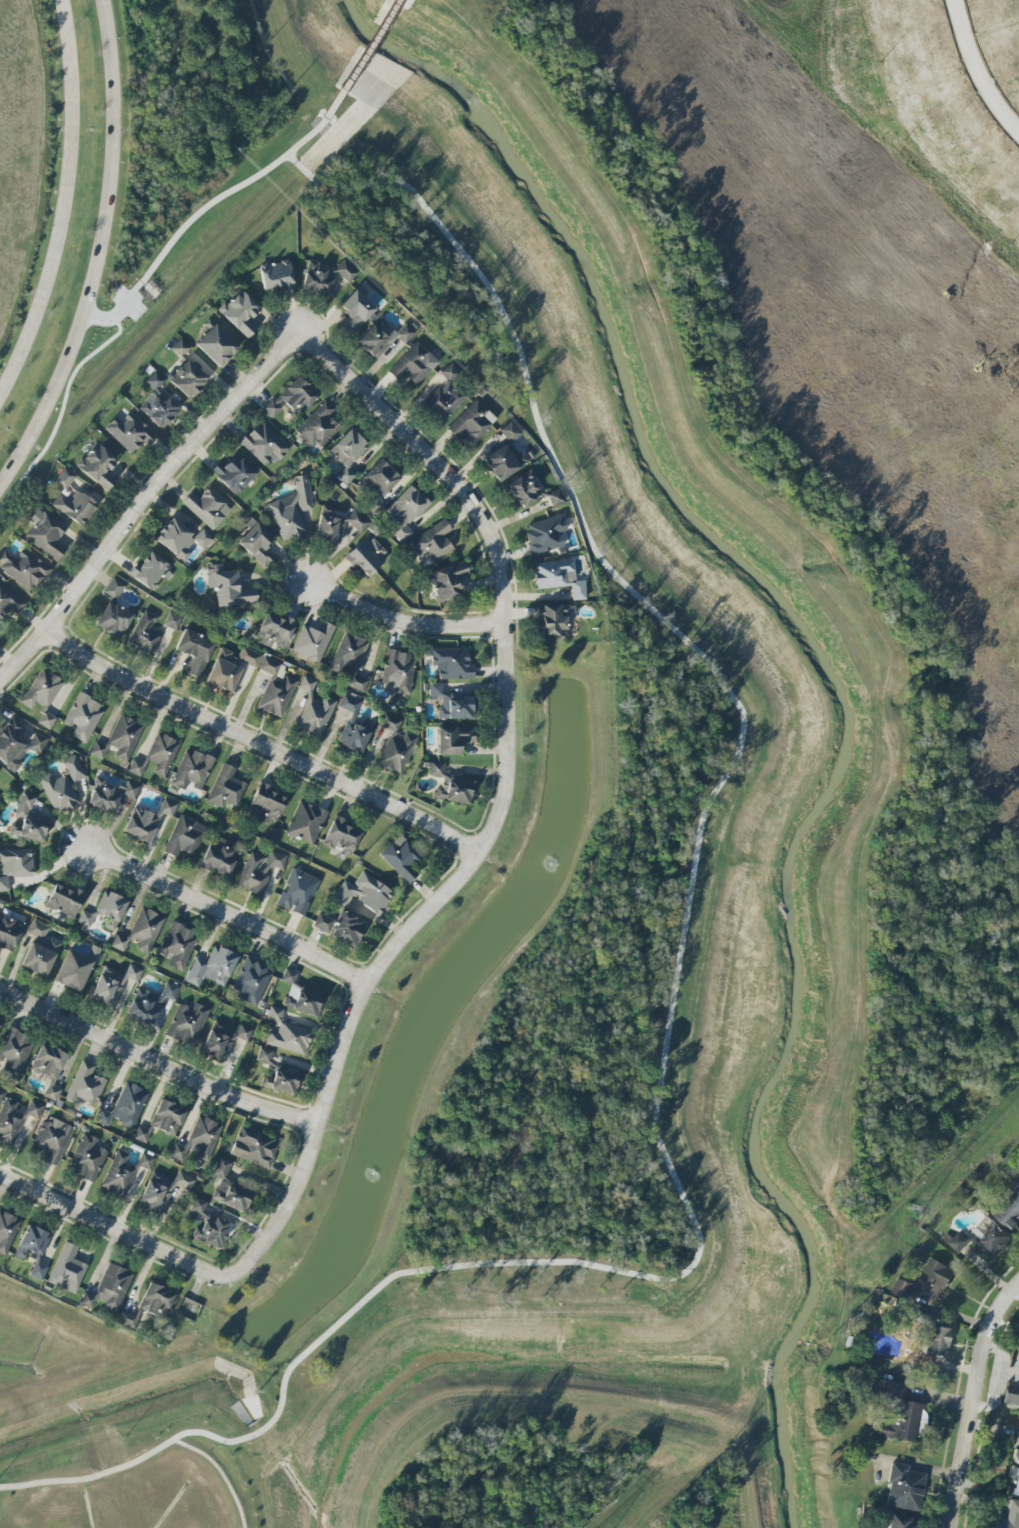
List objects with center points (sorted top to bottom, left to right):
road: (362, 59)
road: (975, 71)
road: (226, 192)
road: (67, 206)
road: (847, 218)
road: (101, 256)
building: (346, 271)
building: (277, 276)
building: (317, 279)
building: (355, 310)
building: (240, 313)
building: (382, 337)
building: (216, 346)
building: (180, 348)
building: (413, 364)
building: (187, 379)
building: (445, 395)
building: (293, 398)
building: (158, 403)
building: (472, 422)
building: (317, 426)
building: (129, 432)
building: (264, 444)
building: (347, 454)
building: (506, 455)
building: (98, 466)
building: (233, 474)
building: (64, 478)
building: (379, 479)
building: (524, 489)
building: (555, 498)
road: (142, 500)
building: (75, 506)
building: (207, 507)
building: (292, 510)
building: (405, 512)
road: (913, 515)
building: (357, 522)
building: (329, 529)
building: (46, 533)
building: (545, 534)
building: (203, 538)
building: (175, 539)
building: (433, 541)
building: (256, 542)
building: (366, 556)
building: (24, 568)
building: (150, 571)
building: (559, 577)
building: (227, 587)
building: (114, 588)
building: (9, 603)
building: (114, 619)
road: (404, 620)
building: (552, 620)
building: (172, 621)
building: (275, 631)
building: (144, 633)
building: (312, 641)
building: (194, 651)
building: (350, 660)
building: (452, 663)
building: (230, 667)
building: (398, 672)
building: (275, 689)
building: (43, 695)
river: (843, 699)
building: (348, 704)
building: (452, 704)
building: (314, 710)
building: (83, 717)
building: (355, 734)
building: (119, 739)
building: (453, 739)
road: (260, 741)
building: (18, 746)
building: (395, 746)
building: (162, 753)
building: (136, 768)
building: (0, 770)
building: (191, 771)
building: (63, 786)
building: (450, 786)
building: (226, 788)
building: (110, 793)
road: (502, 800)
building: (265, 803)
building: (168, 807)
building: (27, 820)
building: (306, 822)
building: (141, 824)
building: (185, 836)
building: (341, 836)
building: (401, 857)
building: (219, 858)
building: (16, 869)
building: (259, 871)
building: (297, 892)
building: (364, 892)
building: (64, 901)
building: (110, 909)
road: (229, 913)
building: (85, 919)
building: (322, 922)
building: (146, 928)
building: (37, 929)
building: (347, 929)
building: (9, 932)
building: (119, 942)
building: (178, 946)
building: (93, 953)
building: (40, 956)
building: (212, 967)
building: (73, 970)
building: (289, 976)
building: (250, 982)
building: (112, 984)
road: (675, 1000)
building: (302, 1003)
building: (148, 1004)
building: (187, 1023)
building: (287, 1034)
building: (223, 1040)
building: (14, 1050)
building: (264, 1056)
road: (155, 1059)
building: (49, 1068)
building: (280, 1082)
building: (85, 1085)
building: (1, 1095)
building: (125, 1106)
building: (167, 1117)
building: (15, 1118)
building: (142, 1134)
building: (204, 1136)
building: (53, 1139)
building: (255, 1147)
building: (178, 1152)
building: (88, 1158)
building: (221, 1168)
building: (123, 1172)
road: (3, 1187)
building: (163, 1189)
building: (231, 1197)
road: (15, 1201)
building: (1009, 1211)
power tower: (918, 1212)
road: (47, 1216)
building: (208, 1224)
building: (6, 1231)
road: (121, 1232)
road: (93, 1234)
road: (56, 1236)
building: (983, 1239)
building: (32, 1242)
road: (94, 1245)
road: (127, 1253)
road: (104, 1262)
building: (39, 1270)
building: (69, 1271)
road: (168, 1273)
road: (140, 1281)
building: (927, 1281)
building: (108, 1292)
building: (157, 1302)
building: (129, 1321)
building: (936, 1341)
building: (1012, 1400)
road: (971, 1401)
building: (897, 1411)
road: (220, 1472)
building: (1014, 1477)
building: (904, 1488)
building: (1009, 1516)
building: (900, 1522)

